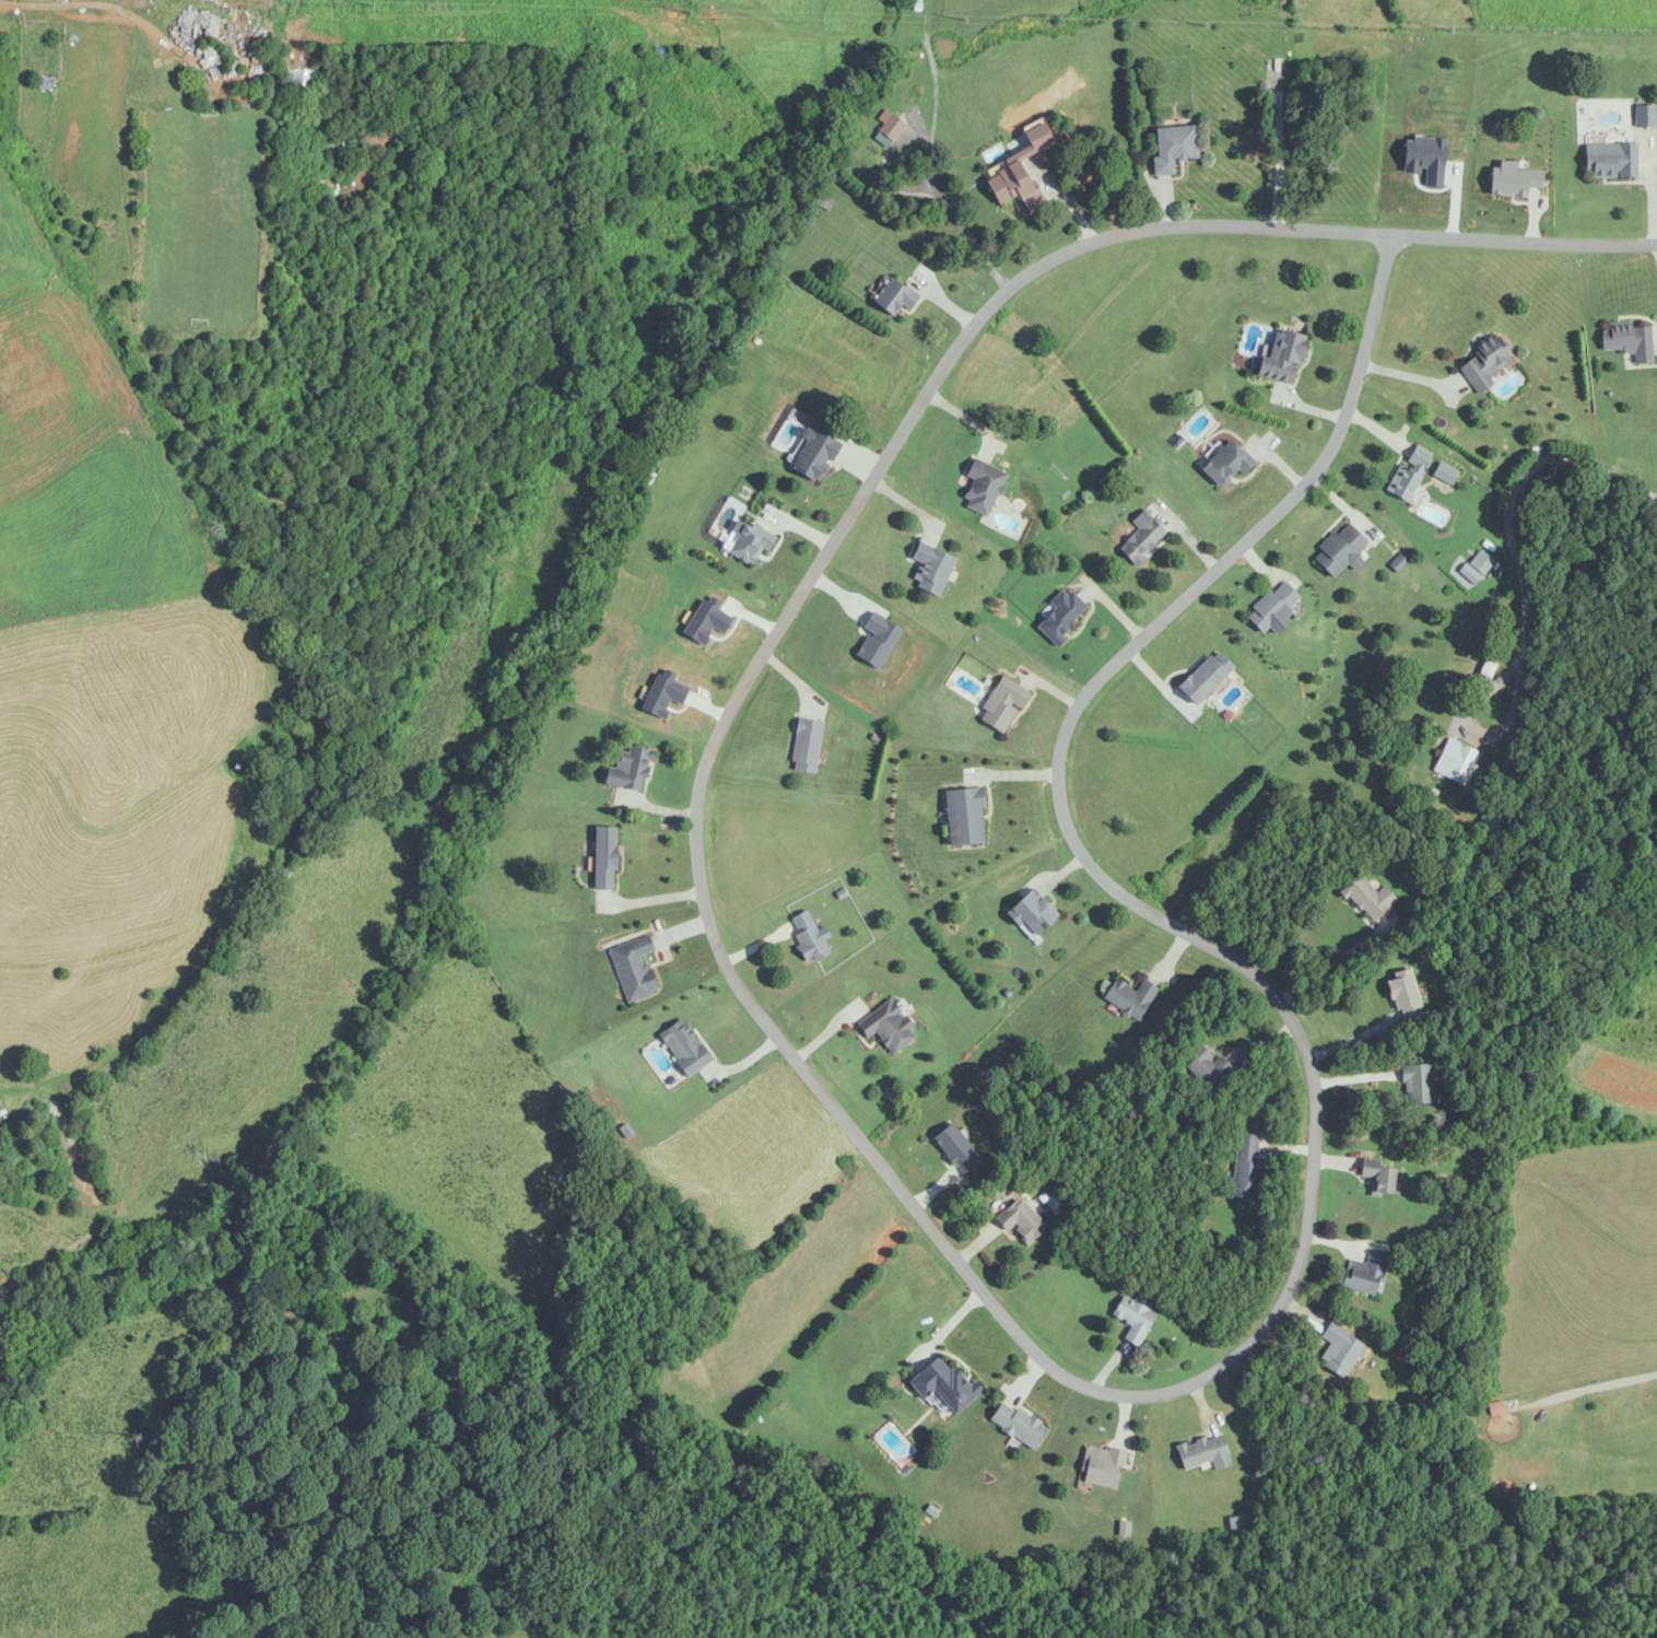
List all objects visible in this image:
road: (104, 4)
road: (936, 73)
building: (303, 80)
building: (1645, 115)
building: (890, 127)
building: (1173, 147)
building: (1611, 160)
road: (908, 186)
building: (1013, 186)
building: (825, 201)
road: (1518, 239)
building: (894, 297)
building: (1629, 341)
building: (1283, 358)
building: (1486, 362)
road: (1403, 374)
building: (812, 455)
building: (1224, 464)
building: (1406, 477)
building: (982, 487)
road: (1514, 492)
building: (1141, 537)
building: (749, 539)
building: (1340, 551)
building: (931, 569)
building: (1270, 606)
building: (1060, 615)
building: (877, 637)
building: (1491, 663)
building: (1203, 677)
building: (1002, 704)
road: (1477, 733)
building: (806, 742)
building: (1458, 762)
building: (628, 770)
building: (964, 816)
building: (1492, 824)
building: (603, 858)
building: (1368, 898)
building: (1032, 913)
building: (810, 937)
road: (1335, 962)
building: (633, 969)
building: (1130, 997)
building: (1406, 997)
building: (886, 1027)
building: (684, 1048)
building: (1206, 1065)
building: (1420, 1084)
building: (1246, 1166)
building: (1377, 1177)
road: (915, 1221)
building: (1021, 1221)
building: (1365, 1272)
building: (1135, 1320)
building: (1340, 1350)
building: (944, 1383)
building: (1018, 1424)
building: (1204, 1452)
building: (1102, 1466)
building: (1239, 1525)

